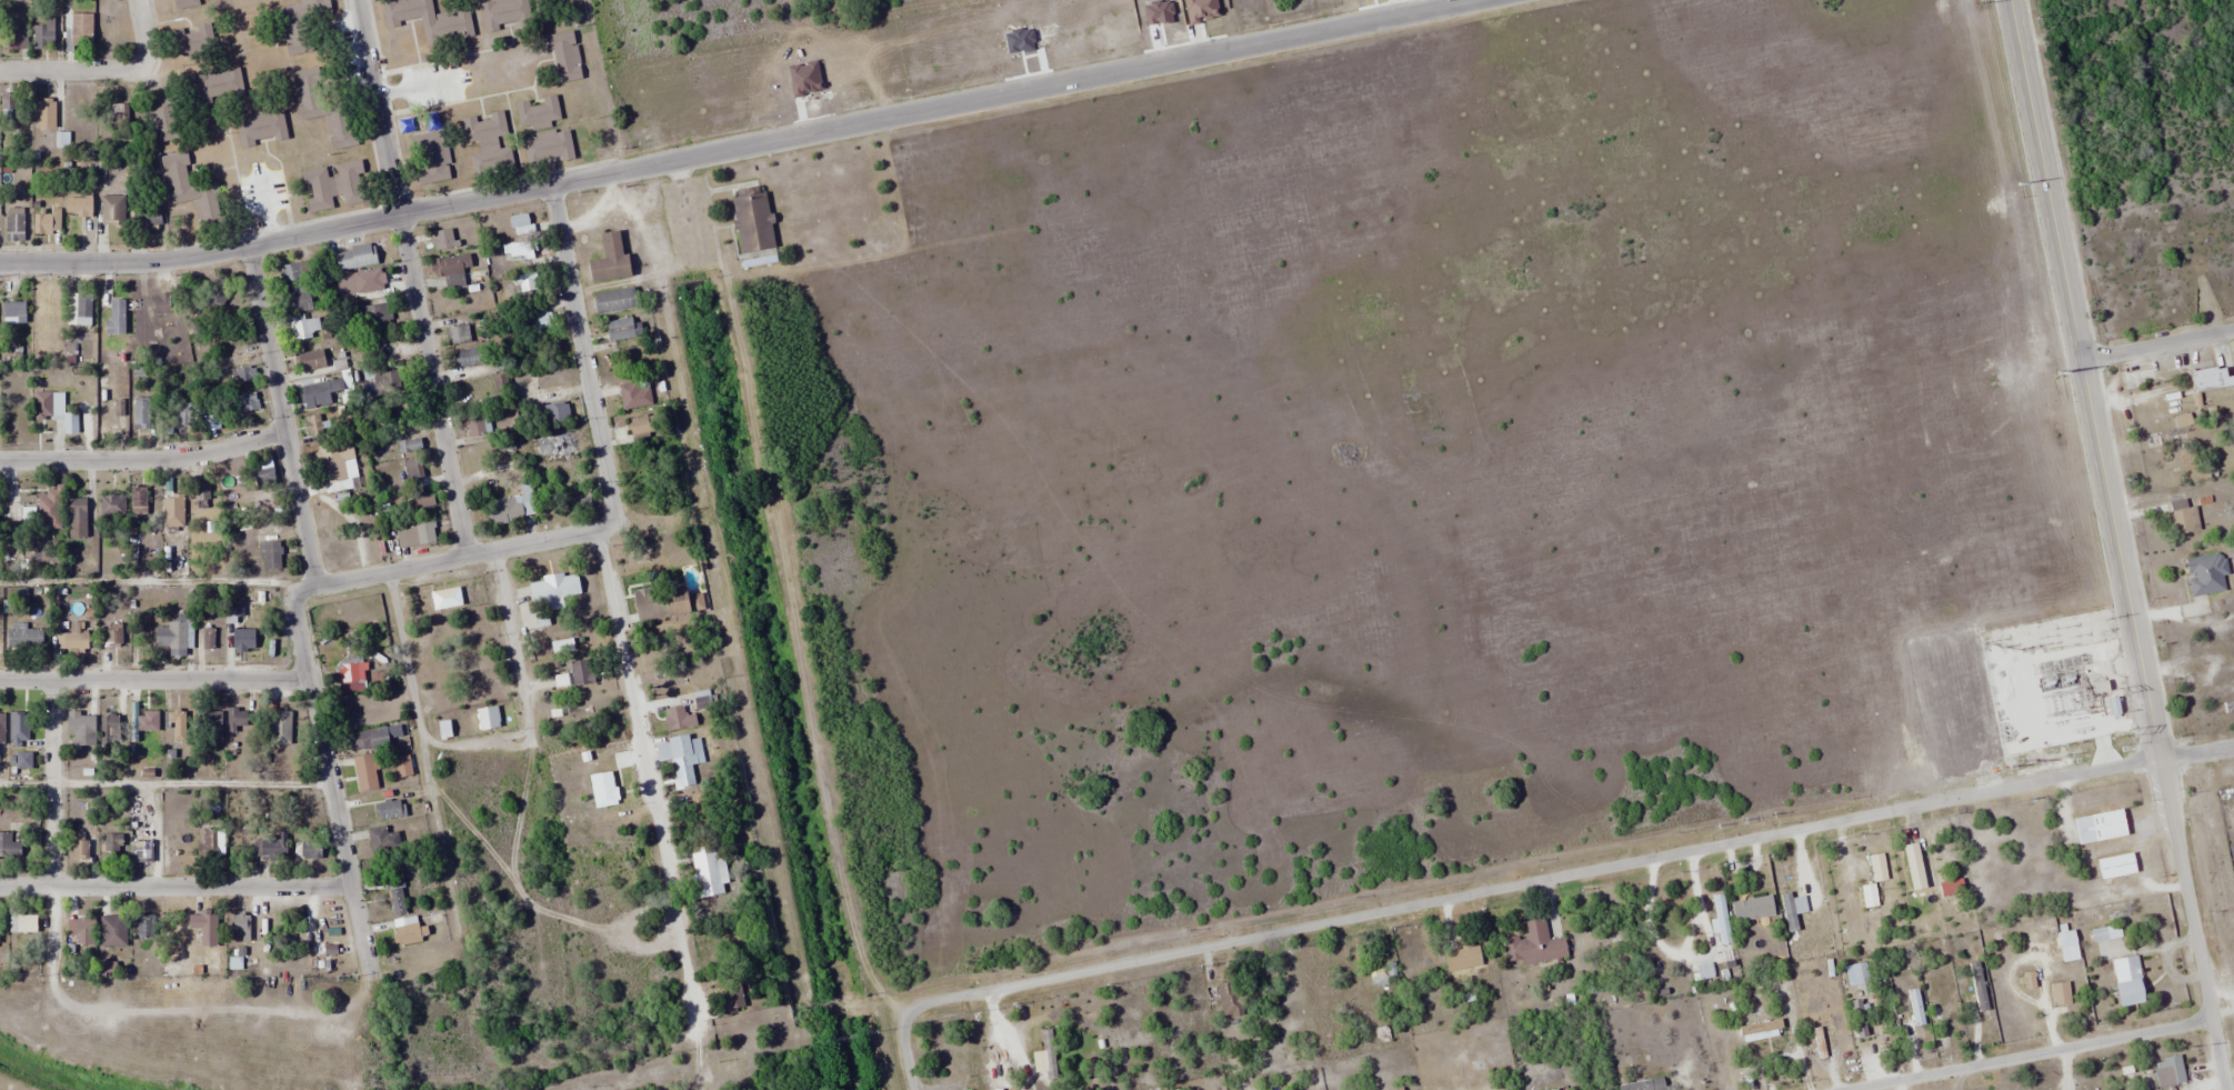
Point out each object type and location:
power tower: (1983, 2)
building: (186, 3)
building: (503, 12)
building: (429, 19)
building: (303, 26)
building: (78, 31)
road: (142, 32)
building: (43, 34)
building: (13, 38)
building: (191, 41)
building: (565, 57)
road: (71, 71)
building: (217, 86)
building: (9, 102)
building: (322, 108)
building: (46, 113)
building: (538, 113)
building: (123, 114)
building: (163, 120)
building: (260, 127)
building: (488, 144)
building: (548, 148)
road: (741, 148)
building: (429, 158)
building: (331, 184)
building: (189, 190)
building: (79, 207)
building: (751, 218)
building: (47, 222)
building: (521, 223)
building: (14, 228)
building: (442, 240)
building: (373, 249)
building: (521, 251)
building: (610, 259)
building: (454, 269)
building: (293, 271)
road: (409, 278)
building: (370, 281)
building: (529, 287)
building: (217, 296)
building: (298, 298)
building: (615, 301)
building: (160, 304)
building: (79, 309)
building: (14, 313)
building: (375, 317)
building: (541, 317)
building: (304, 328)
building: (623, 330)
building: (457, 336)
road: (2157, 346)
building: (471, 358)
building: (311, 360)
building: (244, 373)
power tower: (2057, 377)
road: (2085, 378)
building: (2138, 379)
building: (2212, 379)
building: (388, 381)
building: (500, 383)
building: (320, 393)
building: (634, 394)
building: (246, 403)
building: (54, 411)
building: (183, 413)
building: (402, 413)
building: (140, 414)
building: (109, 417)
building: (479, 424)
building: (313, 427)
building: (640, 428)
building: (561, 444)
building: (410, 447)
road: (143, 461)
building: (337, 466)
building: (413, 469)
building: (264, 474)
building: (199, 492)
building: (138, 501)
building: (173, 501)
building: (111, 506)
building: (49, 509)
building: (508, 510)
building: (2184, 518)
building: (78, 519)
building: (415, 536)
building: (270, 556)
road: (453, 558)
building: (2206, 574)
building: (553, 596)
building: (447, 599)
building: (651, 603)
road: (291, 604)
road: (611, 609)
power tower: (2105, 619)
building: (112, 634)
building: (174, 636)
building: (73, 639)
building: (24, 640)
building: (244, 641)
road: (511, 649)
building: (380, 660)
building: (582, 672)
building: (352, 677)
road: (152, 679)
power substation: (2075, 682)
power tower: (2117, 692)
building: (704, 700)
building: (2230, 702)
building: (678, 719)
building: (237, 720)
building: (148, 721)
building: (176, 723)
building: (289, 723)
building: (2, 727)
building: (212, 727)
building: (81, 729)
building: (19, 730)
building: (109, 730)
power tower: (2127, 731)
building: (370, 740)
power tower: (2058, 747)
road: (423, 752)
building: (683, 761)
building: (403, 767)
building: (365, 774)
road: (52, 782)
building: (604, 790)
building: (389, 811)
building: (2101, 827)
building: (382, 840)
building: (207, 844)
building: (9, 848)
building: (80, 848)
building: (112, 848)
building: (274, 848)
building: (307, 849)
building: (142, 852)
building: (2117, 866)
building: (709, 872)
road: (1531, 882)
road: (173, 886)
building: (395, 898)
building: (23, 923)
road: (2192, 923)
building: (144, 926)
building: (1755, 927)
building: (204, 928)
building: (241, 928)
building: (113, 931)
building: (80, 932)
building: (410, 932)
building: (1533, 946)
building: (1462, 958)
building: (1861, 973)
building: (2128, 980)
building: (2061, 993)
building: (1983, 997)
building: (733, 999)
building: (1230, 999)
building: (1919, 1011)
building: (1857, 1020)
power tower: (2190, 1047)
road: (2036, 1056)
building: (2173, 1070)
building: (1645, 1084)
building: (1555, 1089)

